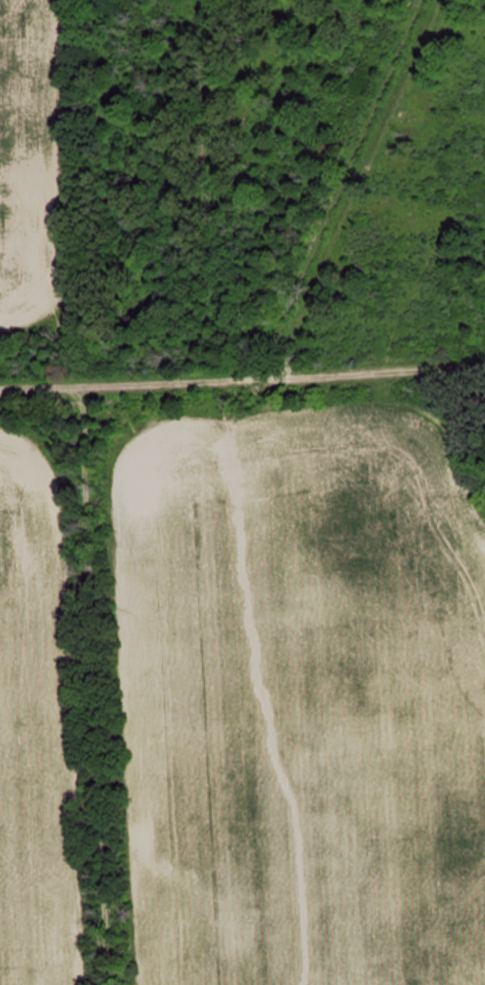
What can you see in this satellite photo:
road: (242, 379)
road: (81, 685)

